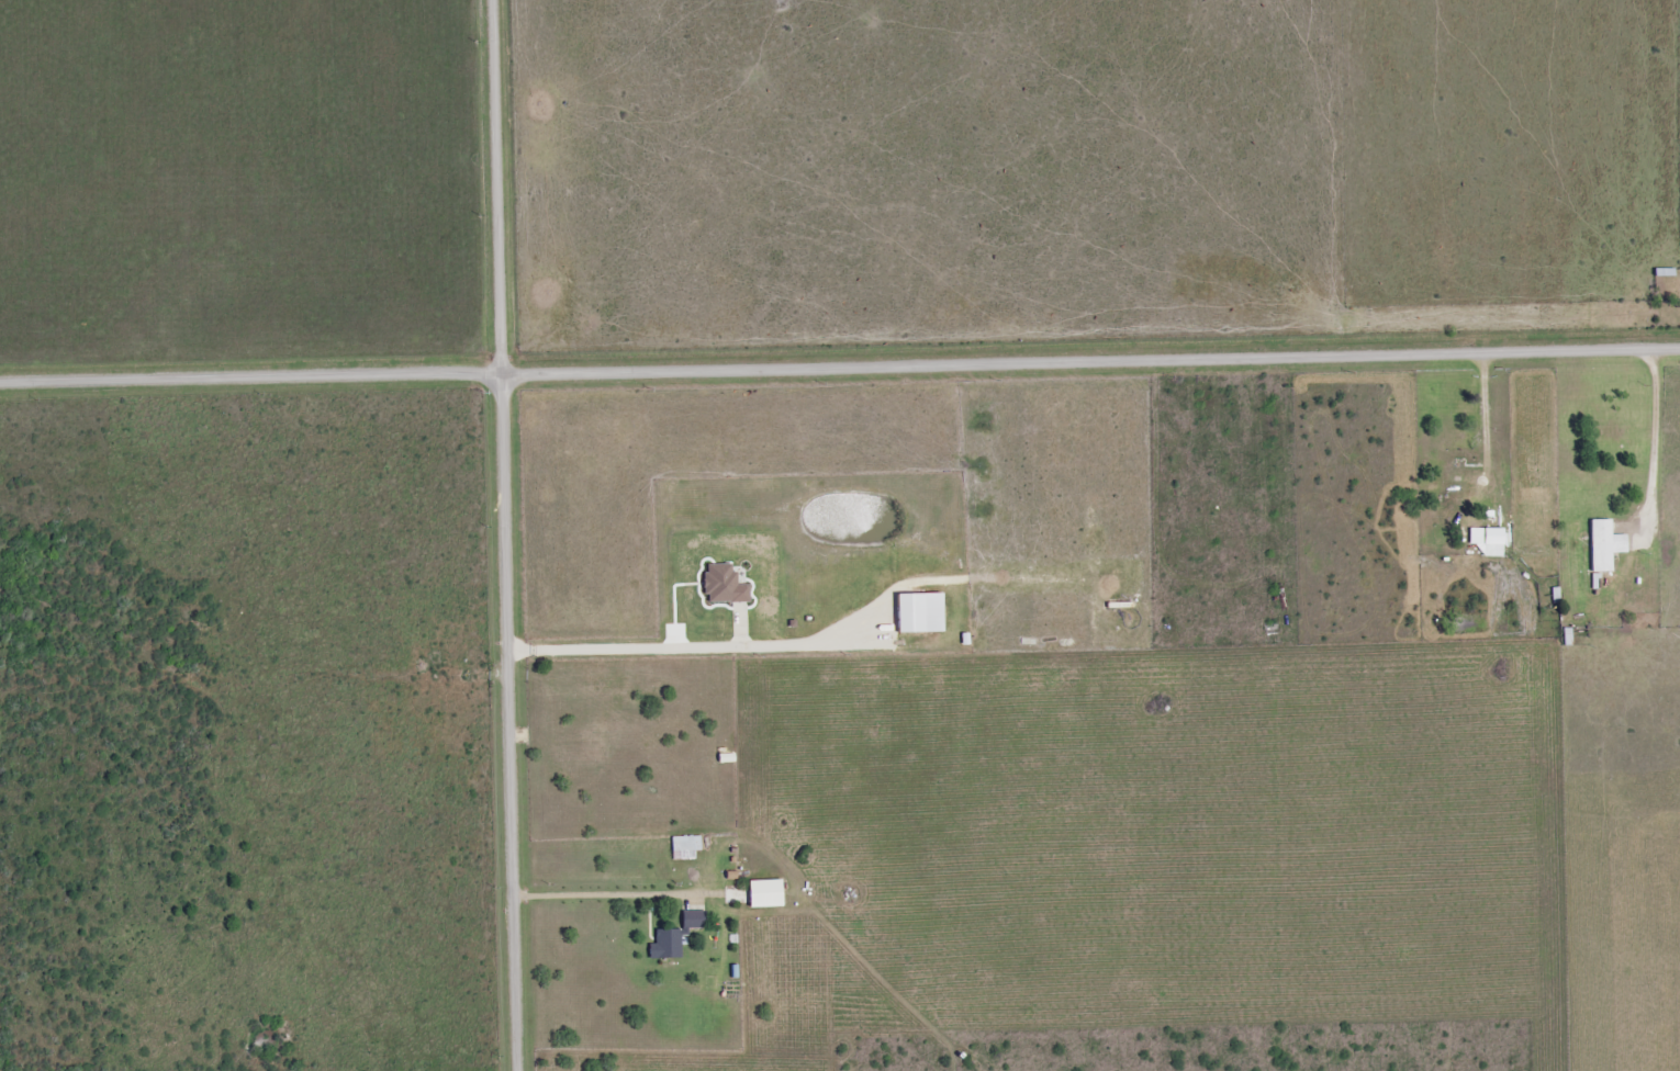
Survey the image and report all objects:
road: (840, 363)
road: (507, 534)
building: (1488, 541)
building: (1603, 545)
building: (723, 585)
building: (919, 613)
building: (764, 893)
building: (675, 936)

